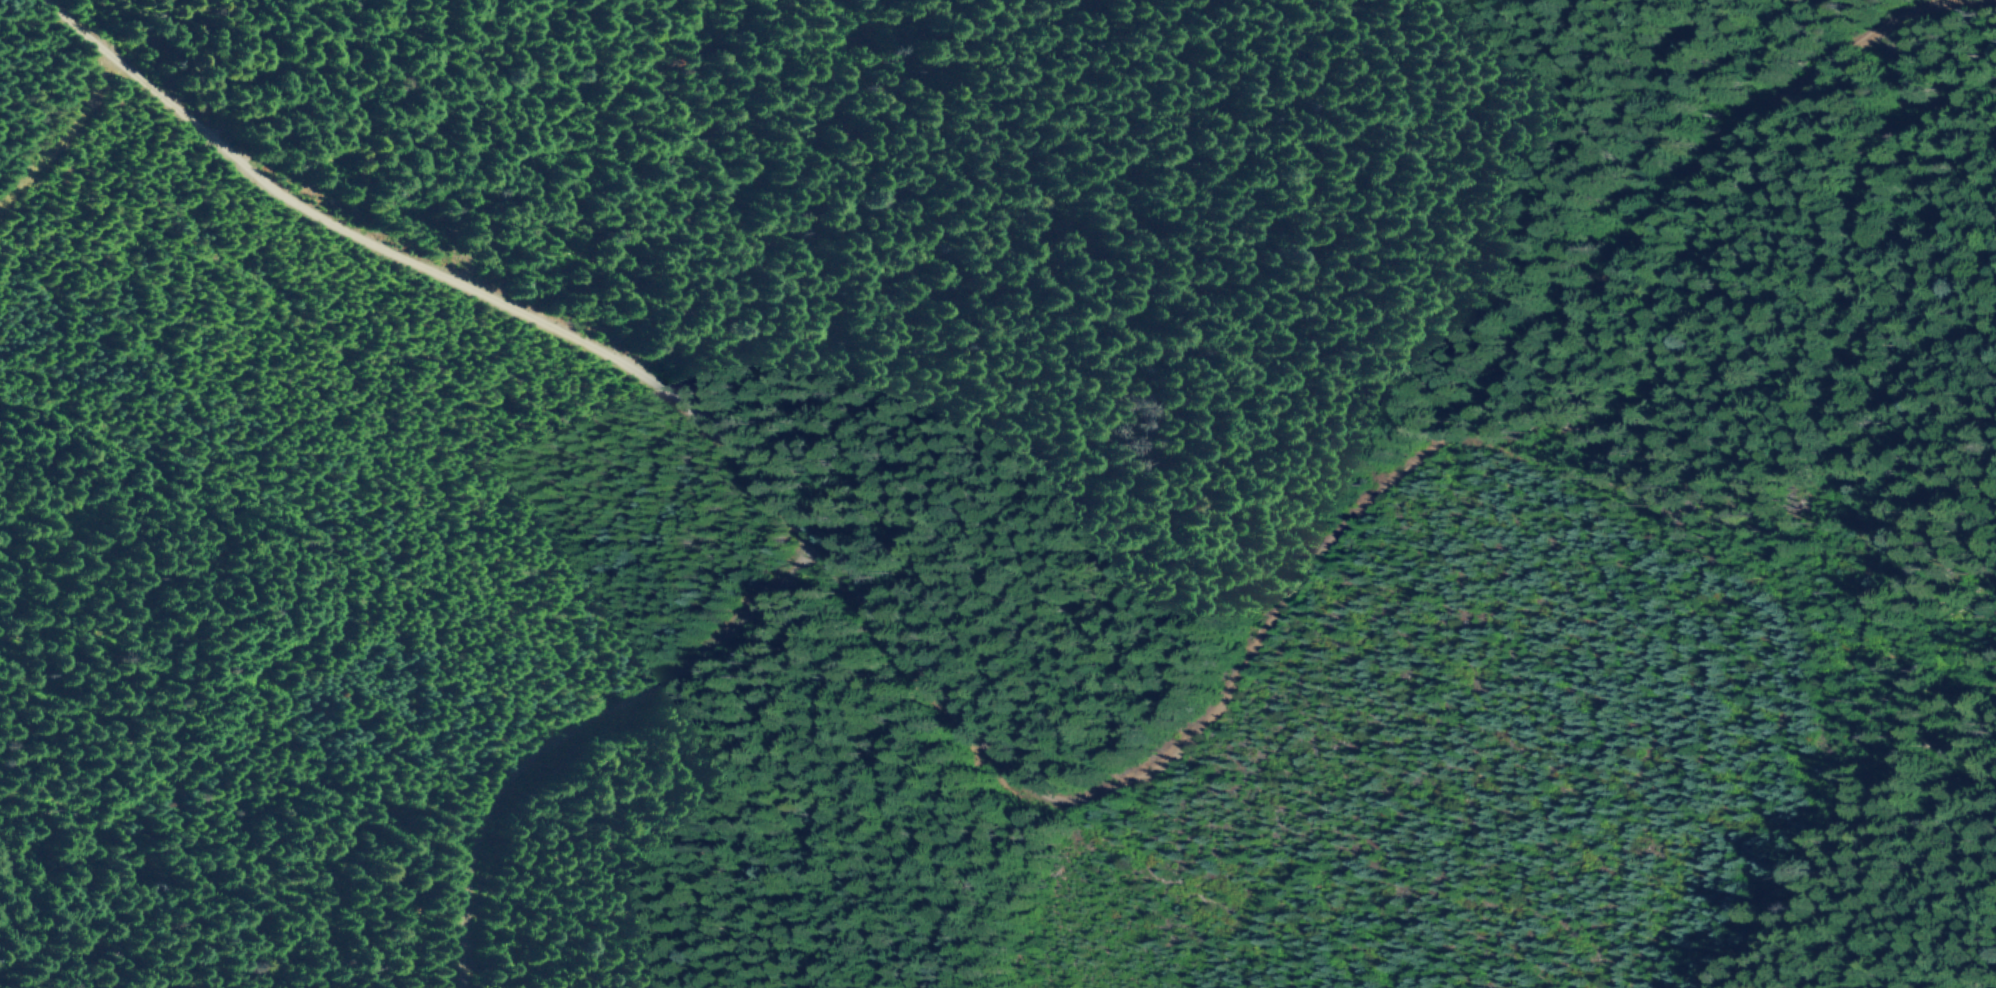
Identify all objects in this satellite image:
road: (571, 726)
road: (1018, 781)

